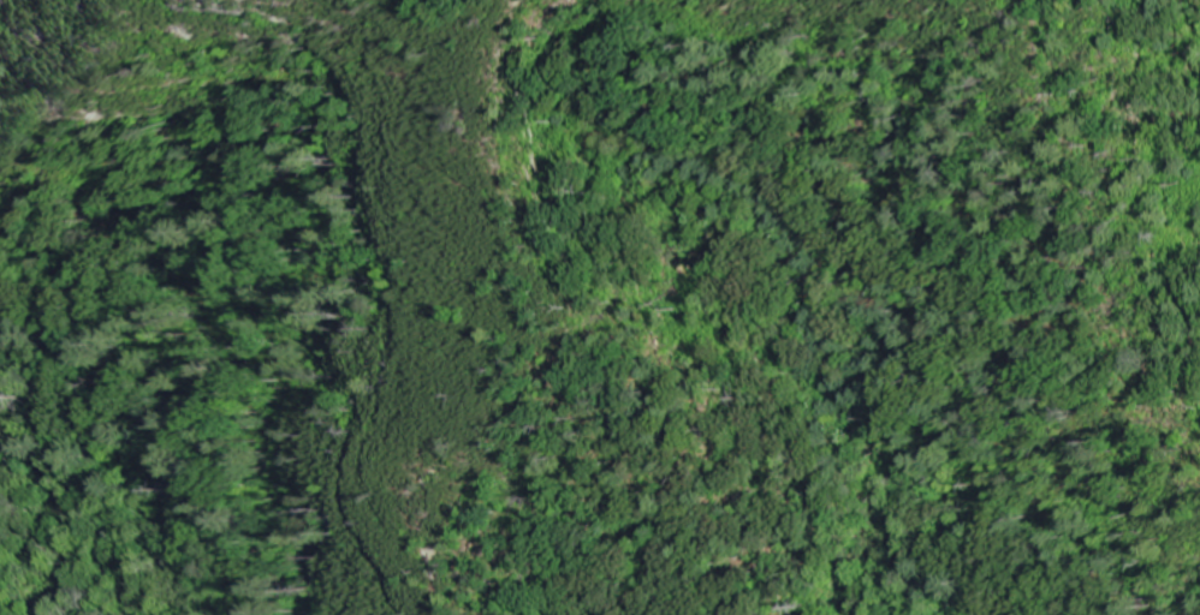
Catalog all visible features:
road: (523, 314)
road: (119, 419)

